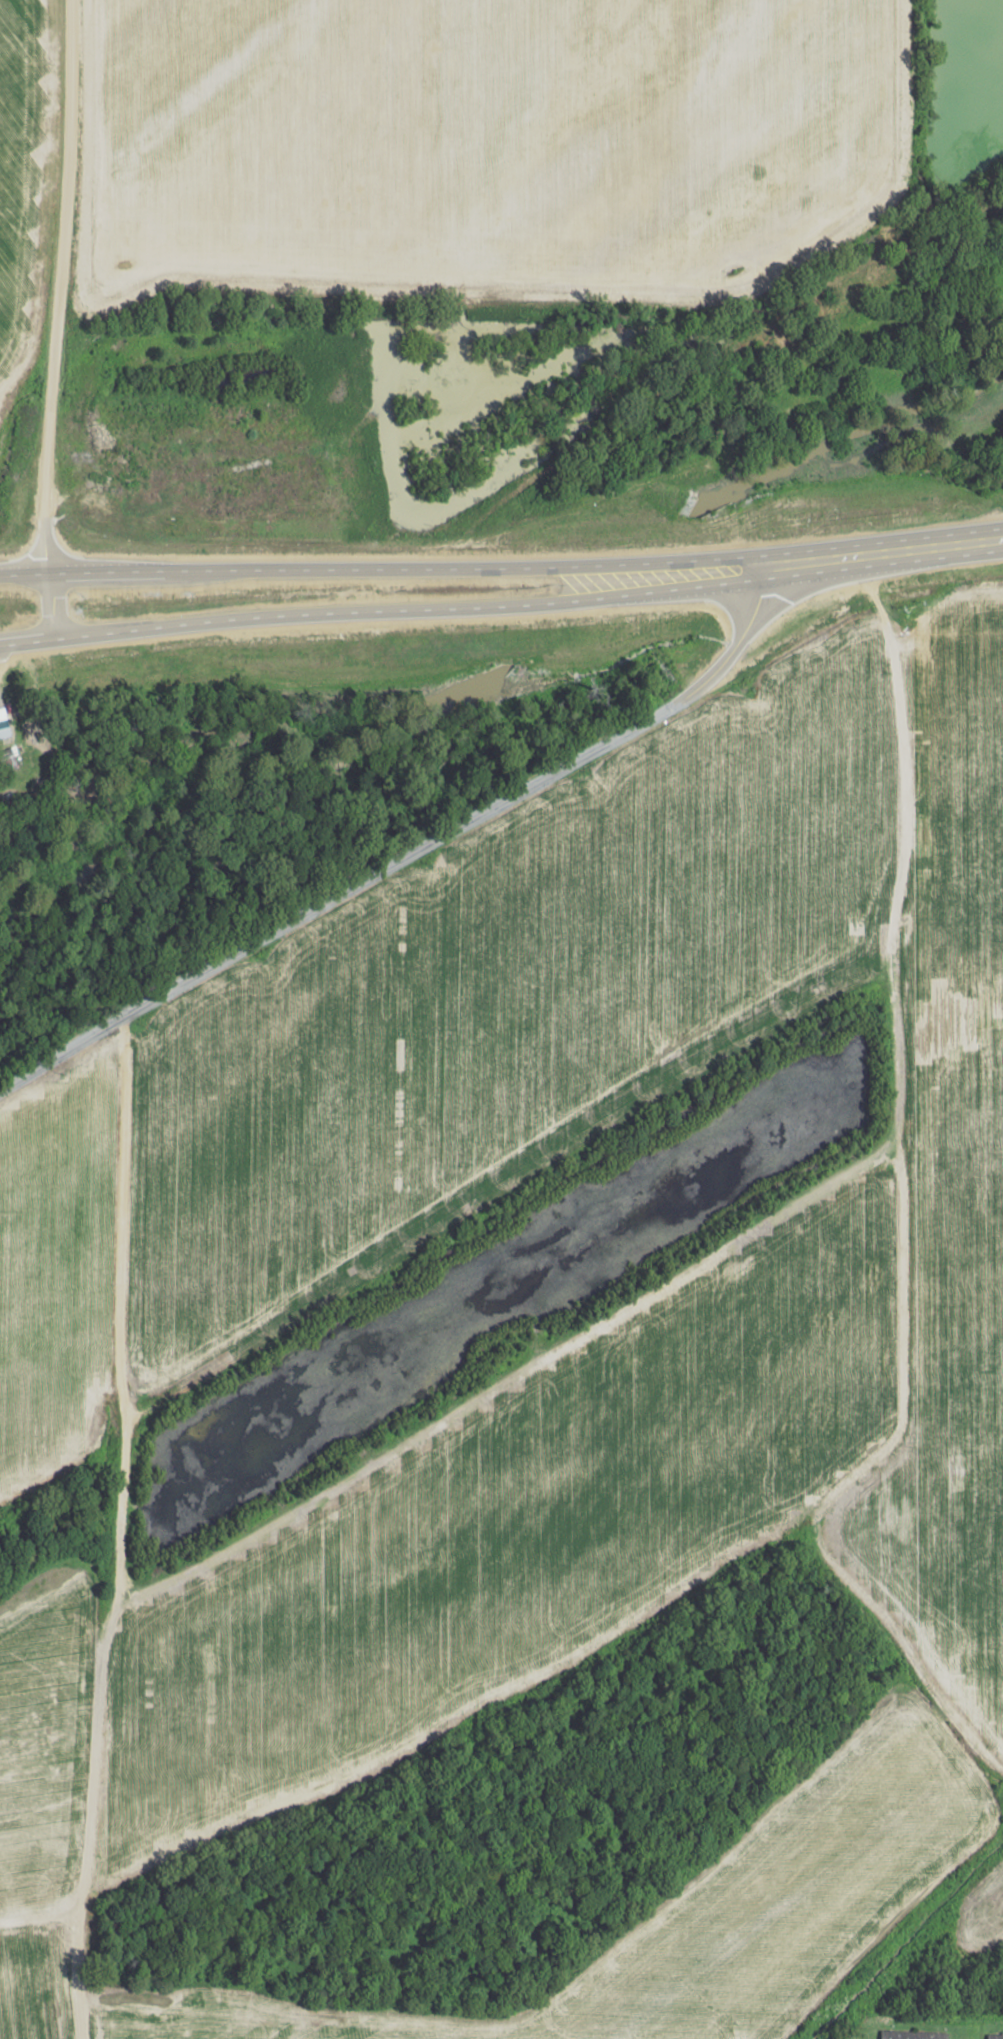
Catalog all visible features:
road: (59, 284)
road: (878, 546)
road: (376, 565)
road: (49, 600)
road: (377, 605)
building: (4, 731)
road: (410, 852)
road: (112, 1526)
building: (913, 2034)

